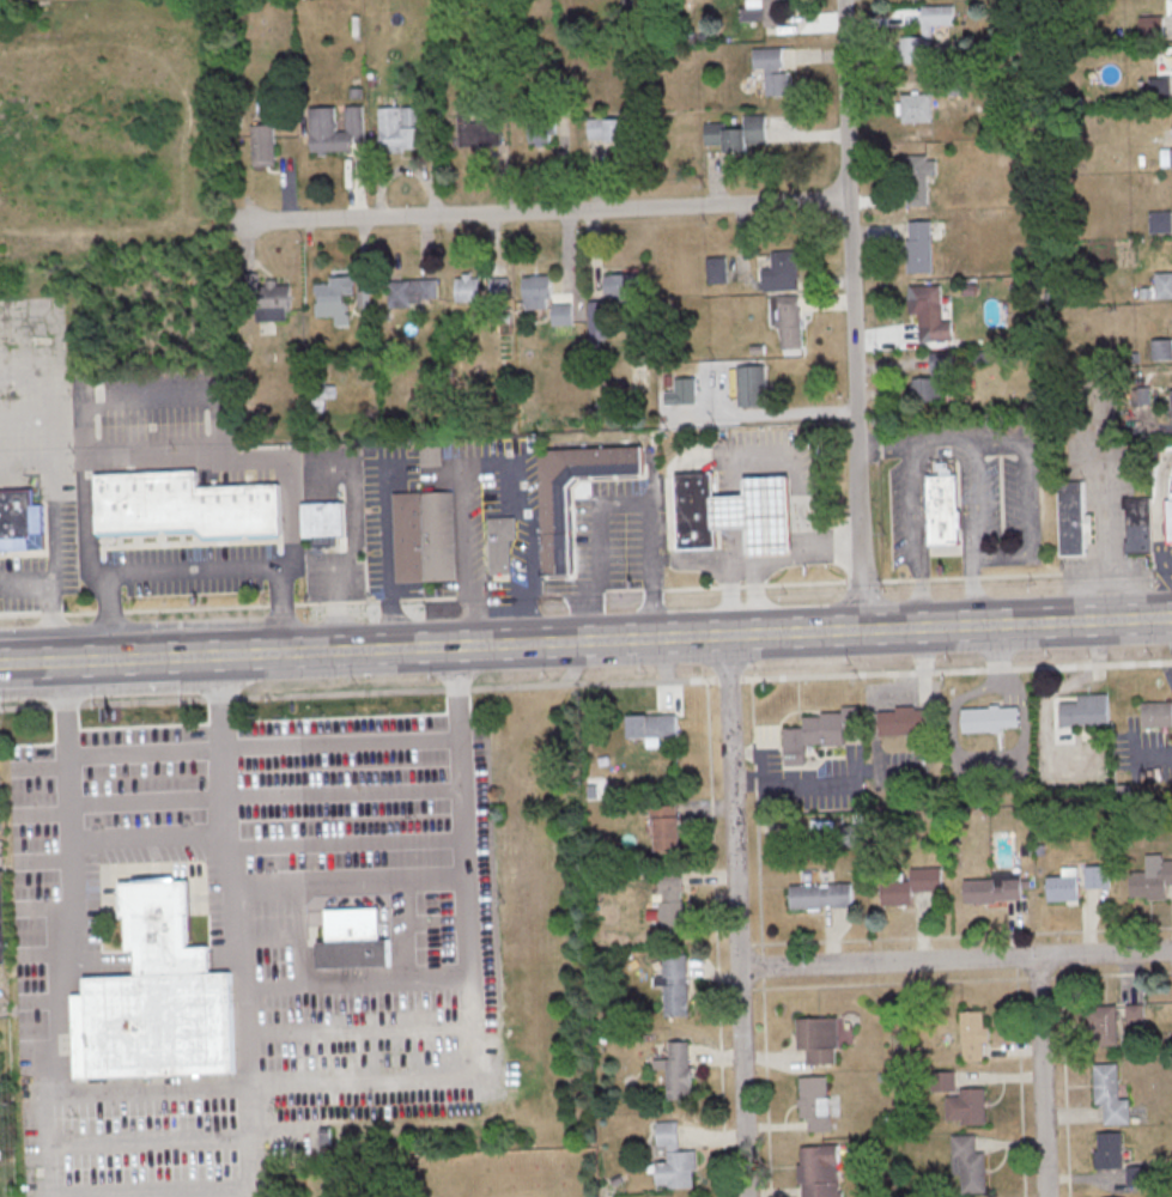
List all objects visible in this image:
building: (761, 11)
building: (927, 35)
building: (771, 67)
building: (1160, 86)
building: (916, 107)
building: (612, 126)
building: (401, 127)
building: (478, 127)
building: (334, 128)
building: (540, 129)
building: (736, 133)
building: (262, 144)
building: (1170, 156)
building: (917, 178)
road: (539, 212)
building: (1159, 220)
building: (919, 245)
building: (716, 268)
building: (781, 271)
building: (1162, 284)
building: (620, 285)
building: (497, 286)
building: (466, 287)
building: (412, 290)
building: (535, 292)
building: (334, 297)
building: (272, 304)
building: (561, 312)
building: (929, 314)
road: (852, 315)
building: (789, 321)
building: (933, 379)
building: (749, 384)
building: (680, 390)
building: (1138, 395)
building: (1170, 401)
road: (933, 439)
road: (882, 443)
building: (430, 454)
road: (787, 455)
road: (181, 461)
road: (487, 461)
road: (49, 499)
road: (615, 499)
road: (1025, 499)
building: (184, 504)
building: (942, 508)
building: (692, 509)
road: (729, 511)
building: (755, 514)
road: (1158, 515)
building: (1073, 517)
building: (20, 519)
building: (322, 521)
building: (1166, 521)
building: (1137, 523)
building: (555, 525)
building: (421, 535)
road: (1104, 540)
building: (499, 542)
road: (382, 549)
road: (782, 559)
road: (193, 569)
road: (800, 582)
road: (729, 598)
road: (754, 598)
road: (227, 606)
road: (710, 634)
road: (233, 654)
road: (109, 660)
road: (820, 674)
road: (10, 706)
building: (1085, 710)
building: (1156, 712)
building: (989, 717)
building: (906, 721)
building: (651, 727)
building: (816, 733)
road: (260, 747)
road: (38, 766)
road: (790, 783)
road: (261, 796)
road: (41, 812)
building: (666, 826)
road: (147, 836)
road: (344, 844)
road: (42, 859)
road: (459, 873)
building: (1097, 875)
building: (1152, 877)
building: (911, 885)
building: (1063, 885)
building: (992, 887)
building: (820, 894)
building: (670, 903)
road: (44, 906)
road: (736, 915)
building: (2, 922)
road: (470, 929)
road: (405, 931)
road: (296, 938)
building: (353, 938)
road: (45, 953)
road: (954, 959)
road: (172, 960)
road: (225, 960)
road: (104, 961)
building: (672, 982)
building: (156, 996)
building: (1135, 1014)
building: (1103, 1023)
road: (365, 1028)
building: (973, 1034)
road: (488, 1035)
building: (818, 1038)
building: (676, 1069)
road: (1043, 1075)
building: (943, 1080)
road: (153, 1086)
building: (1110, 1093)
building: (814, 1100)
building: (966, 1105)
road: (42, 1134)
road: (145, 1140)
road: (247, 1140)
building: (1109, 1149)
building: (673, 1157)
building: (967, 1162)
building: (819, 1169)
building: (1137, 1174)
road: (146, 1191)
building: (1125, 1196)

